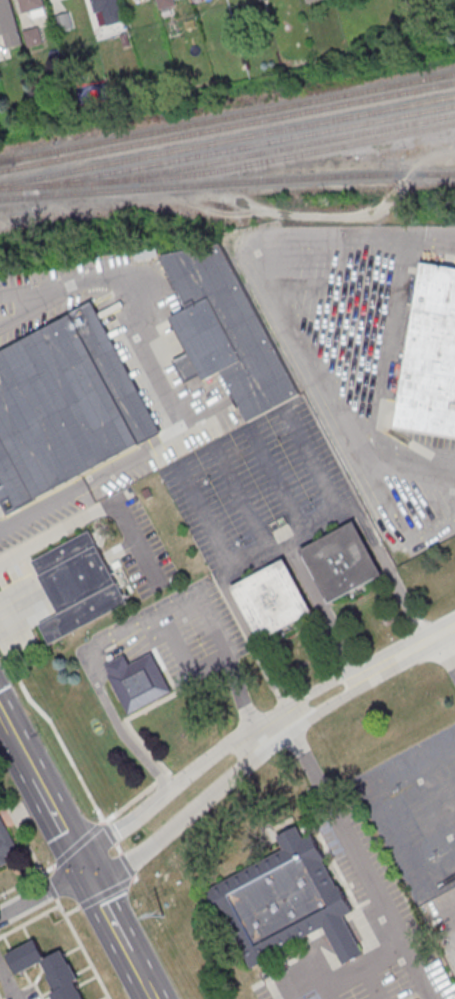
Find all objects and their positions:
building: (196, 1)
building: (310, 1)
building: (164, 2)
building: (31, 6)
building: (107, 9)
building: (62, 21)
building: (8, 24)
building: (32, 35)
railway: (233, 115)
railway: (227, 128)
railway: (227, 141)
railway: (238, 148)
railway: (274, 150)
railway: (6, 160)
railway: (6, 160)
railway: (229, 168)
railway: (227, 181)
road: (240, 198)
road: (55, 286)
road: (281, 291)
building: (226, 332)
road: (146, 347)
building: (431, 358)
building: (66, 408)
road: (45, 507)
parking lot: (44, 514)
road: (92, 515)
road: (315, 524)
road: (258, 554)
building: (343, 562)
road: (390, 570)
building: (79, 585)
road: (202, 600)
building: (273, 600)
road: (29, 606)
road: (322, 606)
road: (192, 608)
road: (140, 621)
road: (162, 623)
road: (164, 627)
road: (107, 633)
parking lot: (199, 634)
road: (252, 636)
road: (111, 641)
road: (418, 644)
road: (115, 647)
road: (448, 648)
road: (138, 649)
road: (183, 650)
road: (117, 663)
building: (117, 664)
road: (99, 671)
building: (140, 682)
road: (191, 683)
road: (240, 694)
road: (127, 718)
road: (117, 724)
road: (55, 730)
road: (266, 733)
road: (221, 750)
road: (162, 775)
road: (236, 775)
road: (42, 792)
road: (129, 804)
road: (387, 809)
parking lot: (415, 811)
road: (21, 831)
road: (110, 833)
building: (6, 843)
road: (76, 843)
road: (118, 849)
road: (127, 863)
road: (365, 864)
traffic signals: (84, 871)
road: (134, 878)
road: (28, 879)
road: (51, 888)
road: (41, 892)
road: (104, 893)
building: (287, 903)
road: (72, 909)
power tower: (164, 917)
road: (29, 919)
parking lot: (408, 923)
road: (117, 934)
road: (83, 948)
road: (454, 952)
building: (48, 968)
road: (346, 970)
road: (369, 982)
road: (8, 983)
road: (326, 989)
road: (273, 991)
parking lot: (265, 992)

